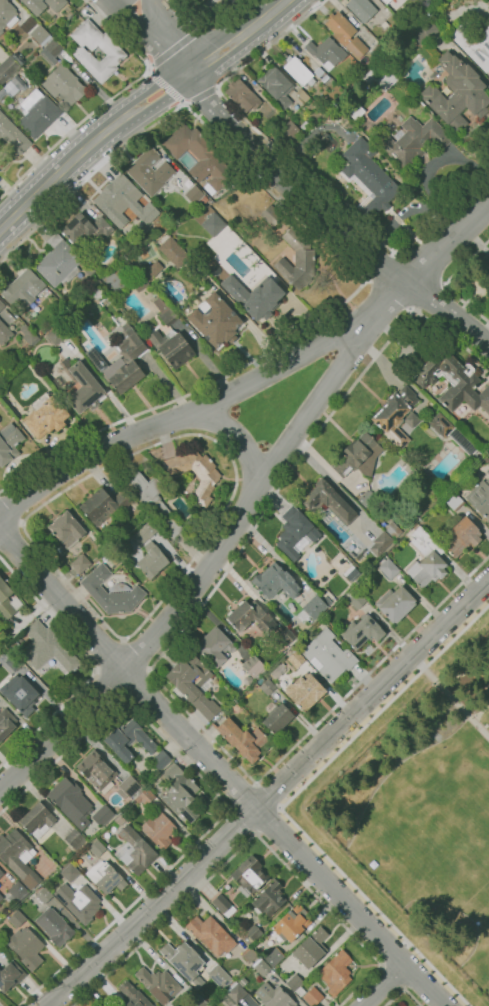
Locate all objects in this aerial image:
road: (111, 0)
building: (202, 0)
building: (386, 1)
building: (55, 4)
building: (35, 6)
building: (361, 9)
building: (384, 10)
building: (7, 14)
road: (206, 25)
building: (386, 25)
road: (158, 26)
road: (200, 26)
building: (345, 34)
building: (40, 35)
road: (149, 40)
building: (474, 45)
road: (173, 49)
building: (377, 49)
building: (51, 51)
building: (113, 51)
building: (326, 52)
building: (18, 58)
building: (7, 68)
road: (147, 69)
building: (298, 70)
building: (323, 77)
building: (378, 78)
building: (451, 83)
building: (64, 85)
building: (275, 86)
road: (166, 87)
road: (216, 88)
building: (242, 95)
building: (301, 95)
road: (200, 96)
road: (108, 102)
road: (185, 105)
road: (137, 108)
building: (355, 110)
building: (38, 115)
building: (303, 127)
building: (288, 129)
building: (13, 136)
building: (413, 140)
building: (198, 156)
road: (298, 170)
building: (149, 171)
building: (367, 178)
building: (188, 183)
building: (194, 194)
building: (123, 202)
building: (271, 215)
road: (328, 221)
building: (211, 223)
building: (86, 228)
building: (173, 252)
road: (338, 256)
building: (297, 260)
building: (58, 262)
road: (379, 265)
road: (419, 268)
building: (129, 269)
building: (89, 270)
building: (152, 271)
building: (139, 283)
road: (444, 284)
building: (22, 288)
road: (389, 295)
building: (254, 296)
road: (428, 298)
building: (1, 305)
building: (164, 312)
building: (216, 321)
building: (4, 333)
building: (28, 334)
building: (56, 335)
road: (451, 340)
building: (172, 347)
building: (125, 360)
building: (453, 381)
building: (82, 388)
building: (395, 415)
road: (178, 416)
building: (46, 417)
building: (411, 419)
road: (202, 421)
building: (451, 432)
building: (9, 443)
building: (358, 456)
road: (253, 468)
building: (195, 473)
road: (279, 489)
building: (480, 497)
road: (251, 498)
building: (365, 499)
building: (154, 500)
building: (329, 501)
building: (453, 501)
building: (103, 505)
road: (11, 512)
road: (217, 519)
building: (66, 529)
building: (389, 530)
road: (10, 533)
building: (142, 533)
building: (295, 533)
building: (462, 537)
building: (150, 542)
building: (378, 543)
building: (425, 559)
building: (152, 560)
building: (80, 563)
building: (388, 569)
building: (352, 574)
building: (275, 581)
building: (110, 592)
building: (356, 600)
building: (5, 601)
building: (327, 601)
building: (395, 603)
building: (314, 607)
building: (250, 616)
building: (362, 632)
building: (285, 637)
building: (236, 638)
building: (214, 646)
building: (47, 648)
road: (109, 654)
road: (137, 654)
building: (328, 655)
building: (296, 659)
building: (14, 663)
road: (92, 665)
building: (253, 666)
road: (106, 684)
building: (193, 684)
road: (138, 686)
building: (267, 686)
building: (304, 691)
building: (20, 694)
road: (456, 703)
building: (235, 706)
building: (278, 720)
building: (6, 723)
road: (317, 724)
building: (243, 739)
building: (128, 740)
building: (160, 759)
building: (96, 769)
road: (217, 771)
building: (128, 787)
building: (180, 793)
road: (243, 795)
road: (268, 795)
building: (145, 796)
road: (220, 796)
road: (272, 798)
road: (284, 800)
building: (71, 801)
park: (419, 809)
building: (104, 815)
building: (37, 820)
building: (119, 820)
road: (242, 820)
road: (268, 821)
building: (159, 829)
road: (249, 837)
building: (75, 838)
building: (97, 848)
building: (134, 850)
building: (18, 856)
building: (70, 872)
building: (1, 873)
building: (249, 875)
building: (106, 877)
building: (18, 890)
building: (43, 894)
building: (1, 898)
building: (269, 898)
building: (79, 901)
building: (223, 905)
building: (17, 919)
building: (292, 922)
building: (55, 926)
building: (252, 933)
building: (211, 934)
building: (26, 946)
building: (311, 948)
building: (249, 954)
building: (274, 957)
building: (184, 961)
building: (261, 967)
building: (336, 972)
building: (10, 975)
building: (219, 976)
road: (391, 977)
building: (294, 982)
building: (159, 984)
road: (384, 985)
road: (401, 988)
building: (300, 991)
building: (233, 994)
building: (133, 996)
building: (274, 996)
building: (313, 996)
building: (198, 1001)
building: (100, 1005)

